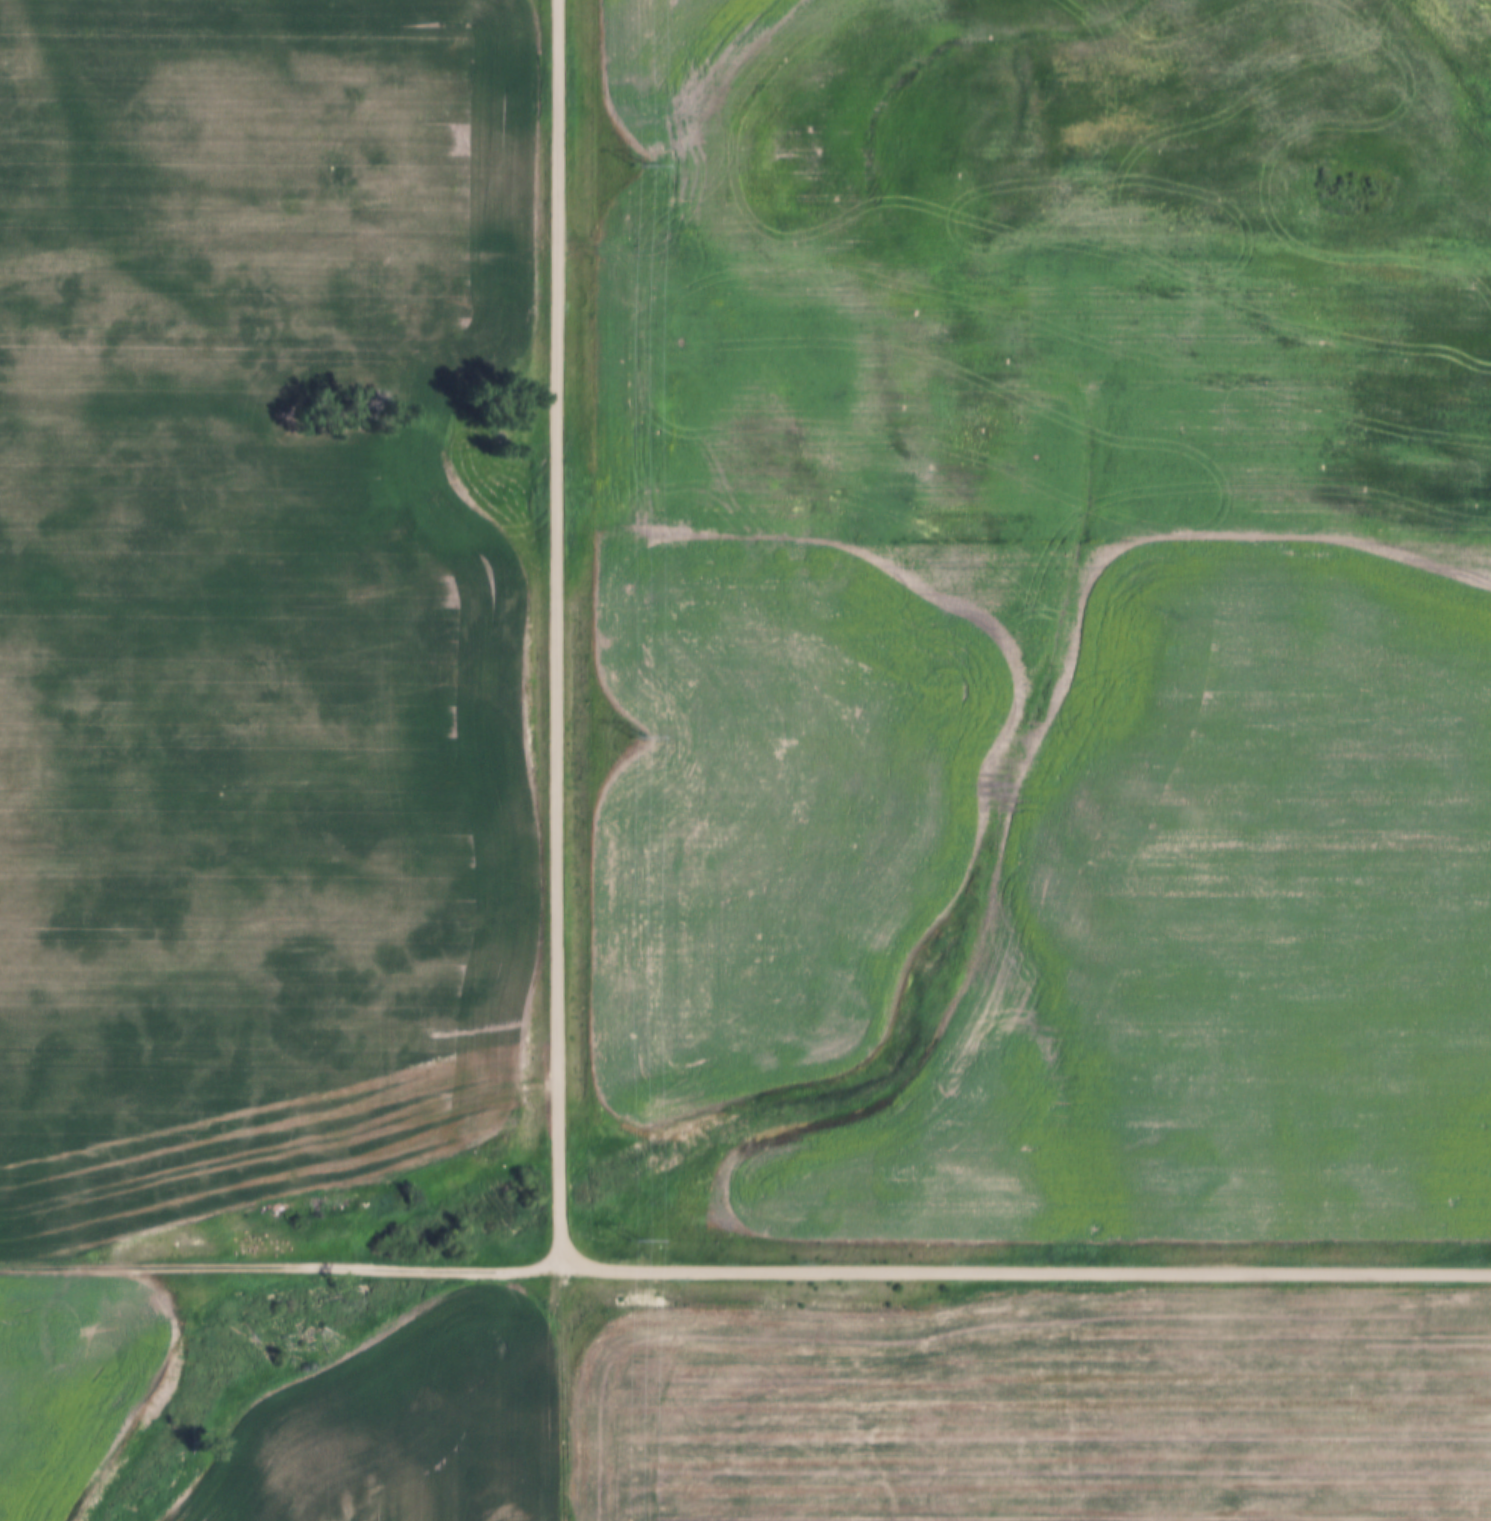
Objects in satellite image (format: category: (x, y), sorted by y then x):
power tower: (639, 166)
road: (560, 634)
power tower: (638, 740)
power tower: (636, 1244)
road: (280, 1267)
road: (1025, 1273)
road: (563, 1394)

